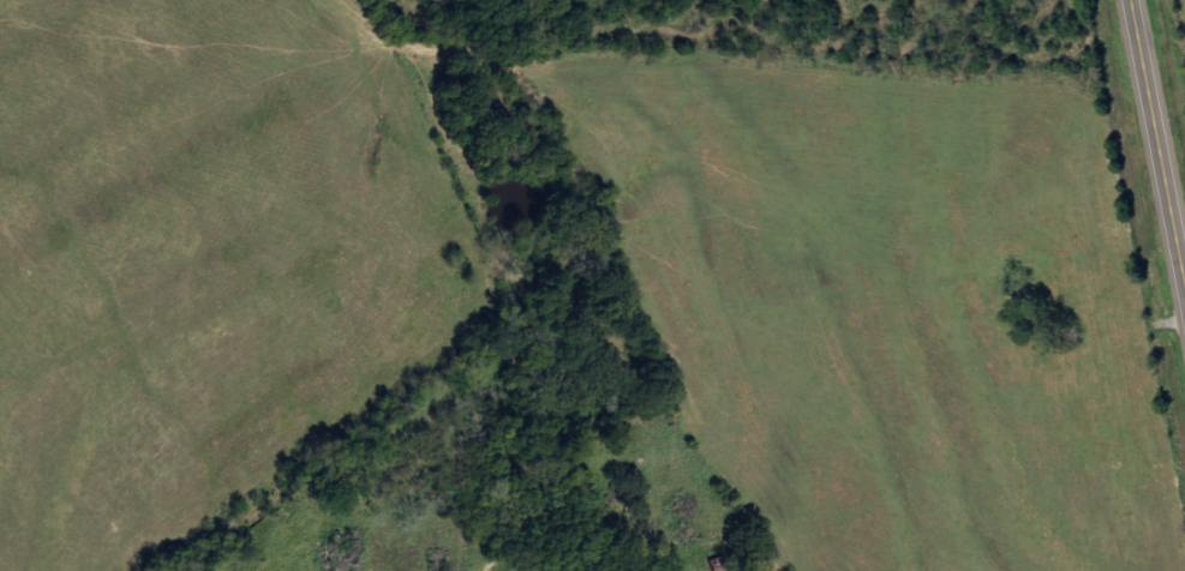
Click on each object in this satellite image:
road: (1162, 133)
building: (720, 564)

